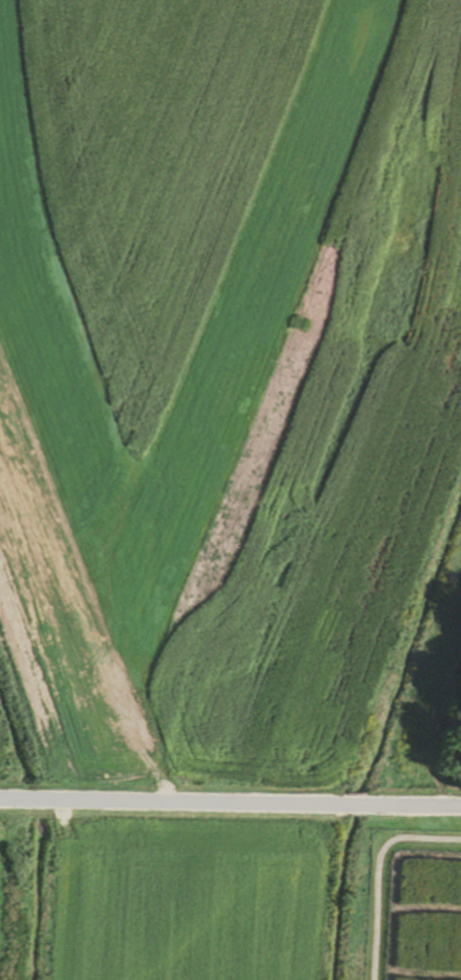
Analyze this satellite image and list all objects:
road: (230, 802)

